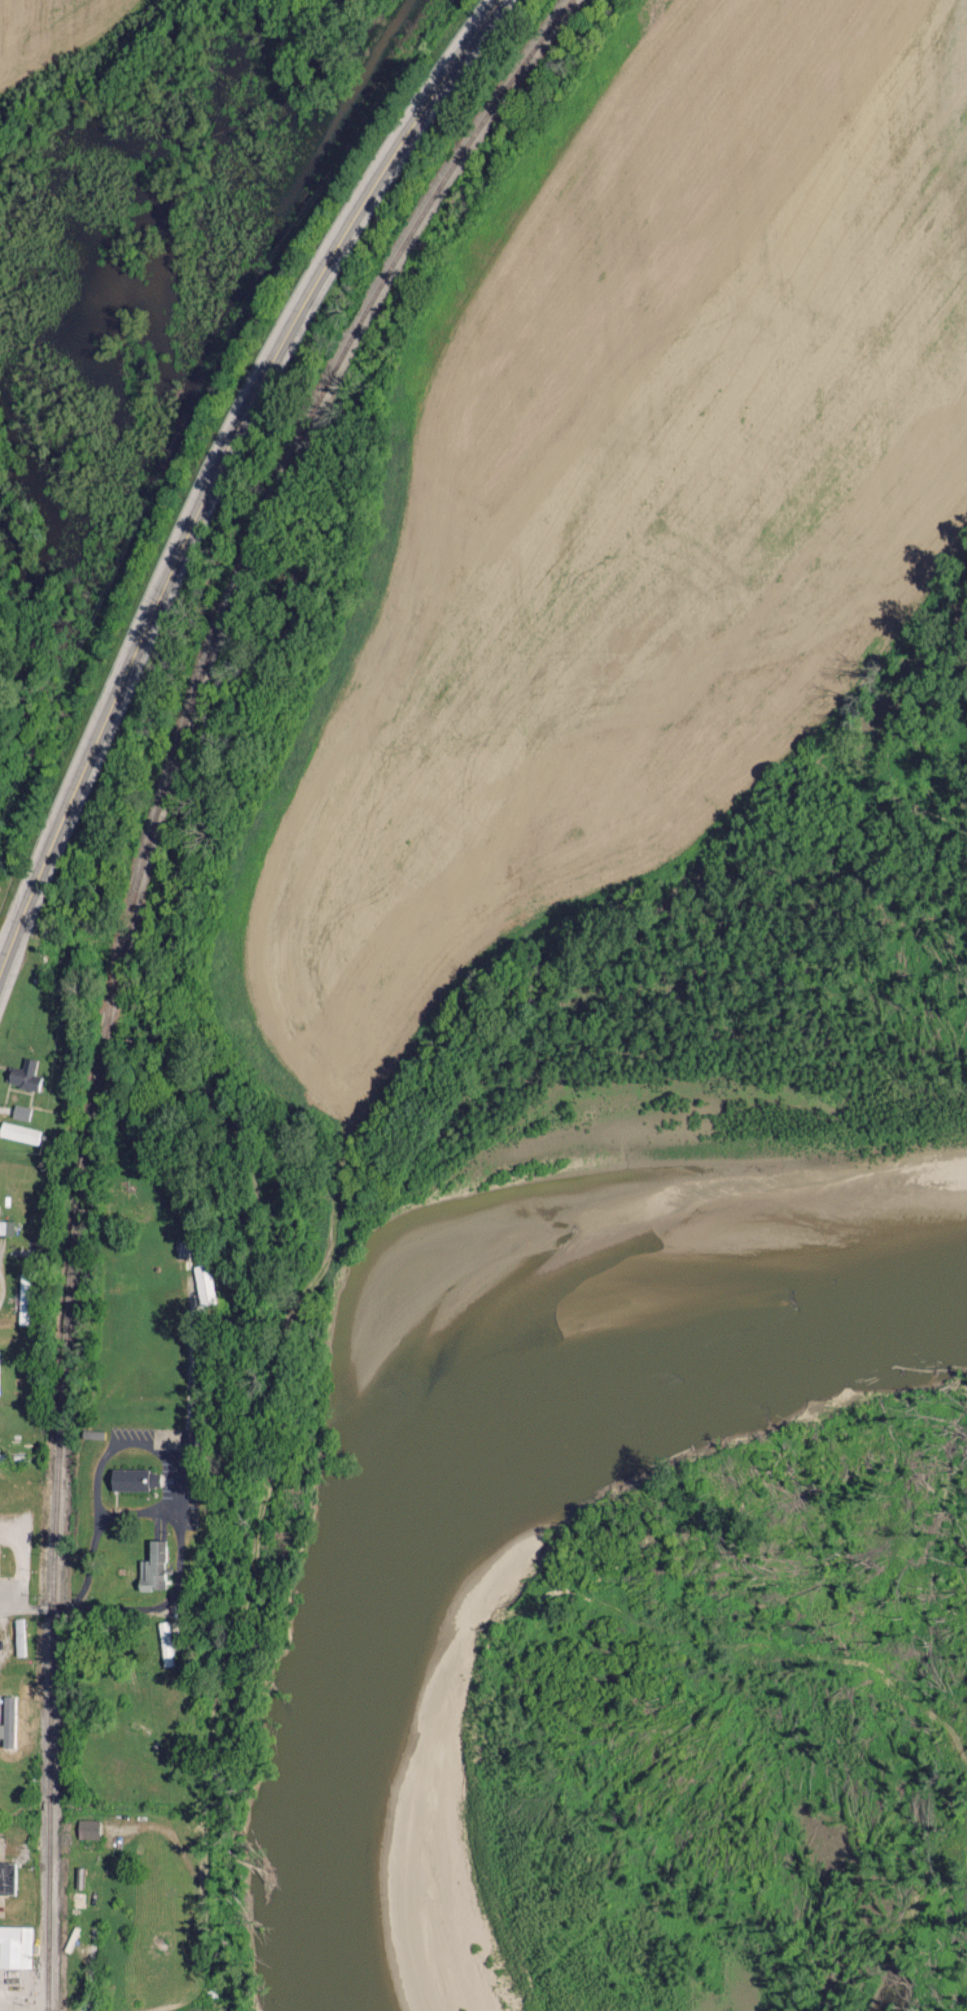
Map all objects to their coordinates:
road: (224, 445)
road: (8, 947)
railway: (123, 952)
building: (23, 1074)
building: (19, 1112)
building: (19, 1132)
building: (6, 1227)
building: (202, 1284)
building: (22, 1300)
road: (190, 1372)
river: (413, 1392)
road: (184, 1477)
building: (135, 1479)
road: (140, 1513)
building: (150, 1567)
road: (19, 1610)
building: (164, 1643)
building: (87, 1828)
building: (6, 1878)
building: (15, 1947)

